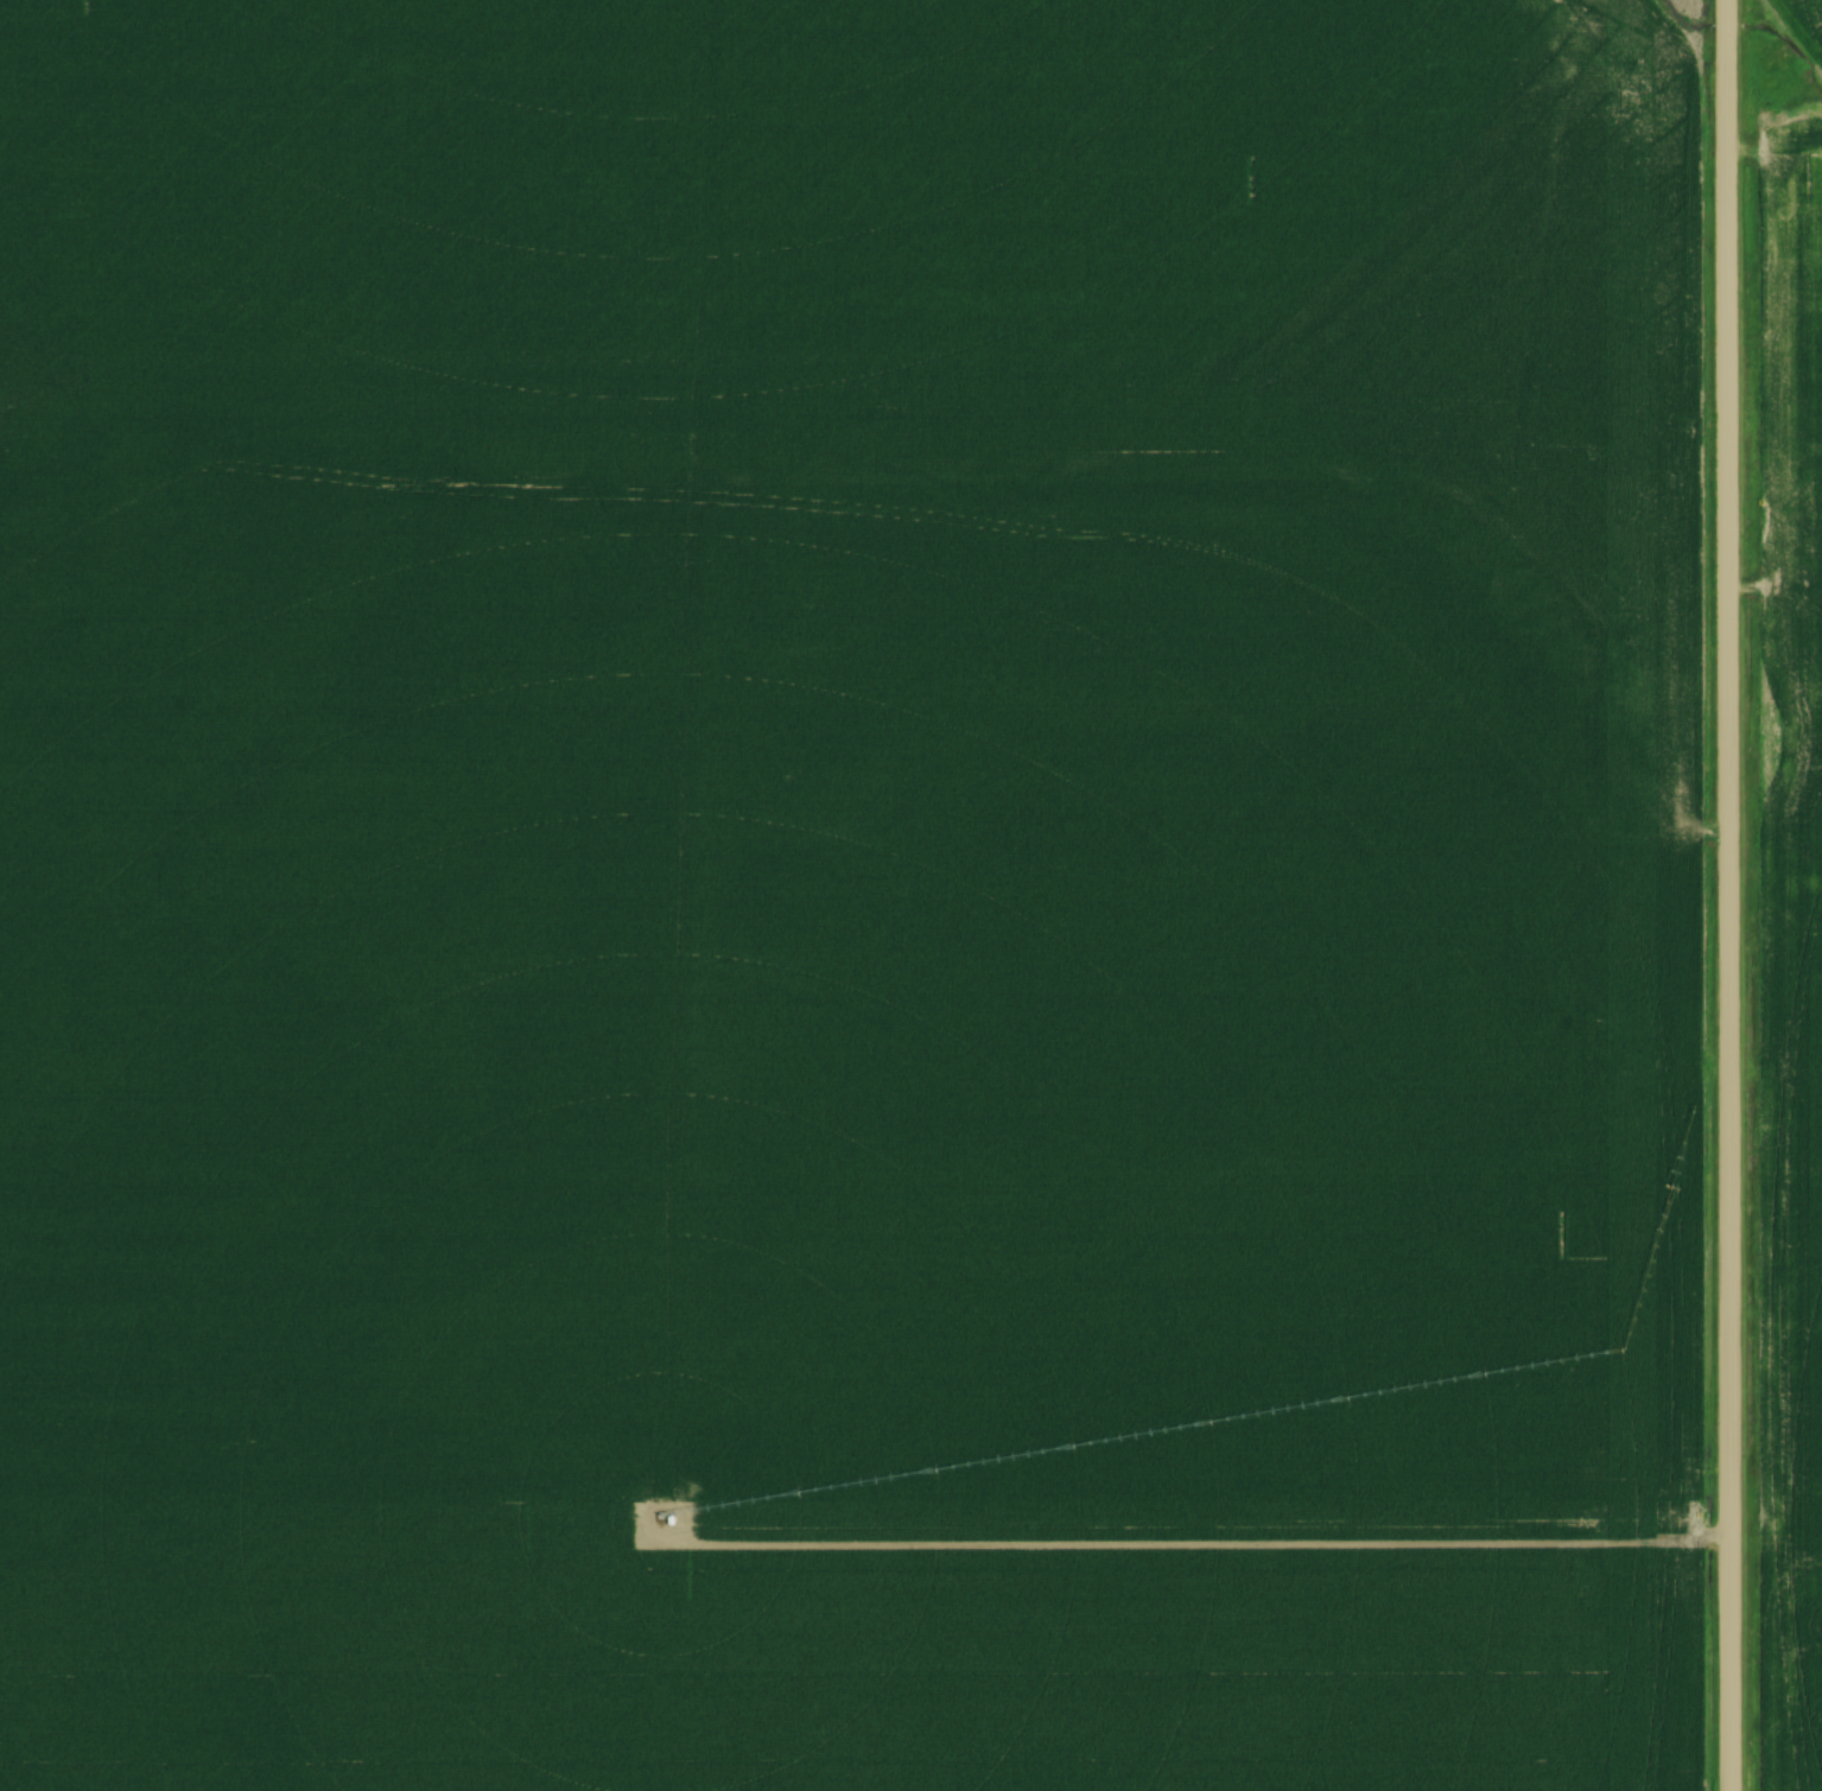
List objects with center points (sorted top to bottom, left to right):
road: (1723, 895)

